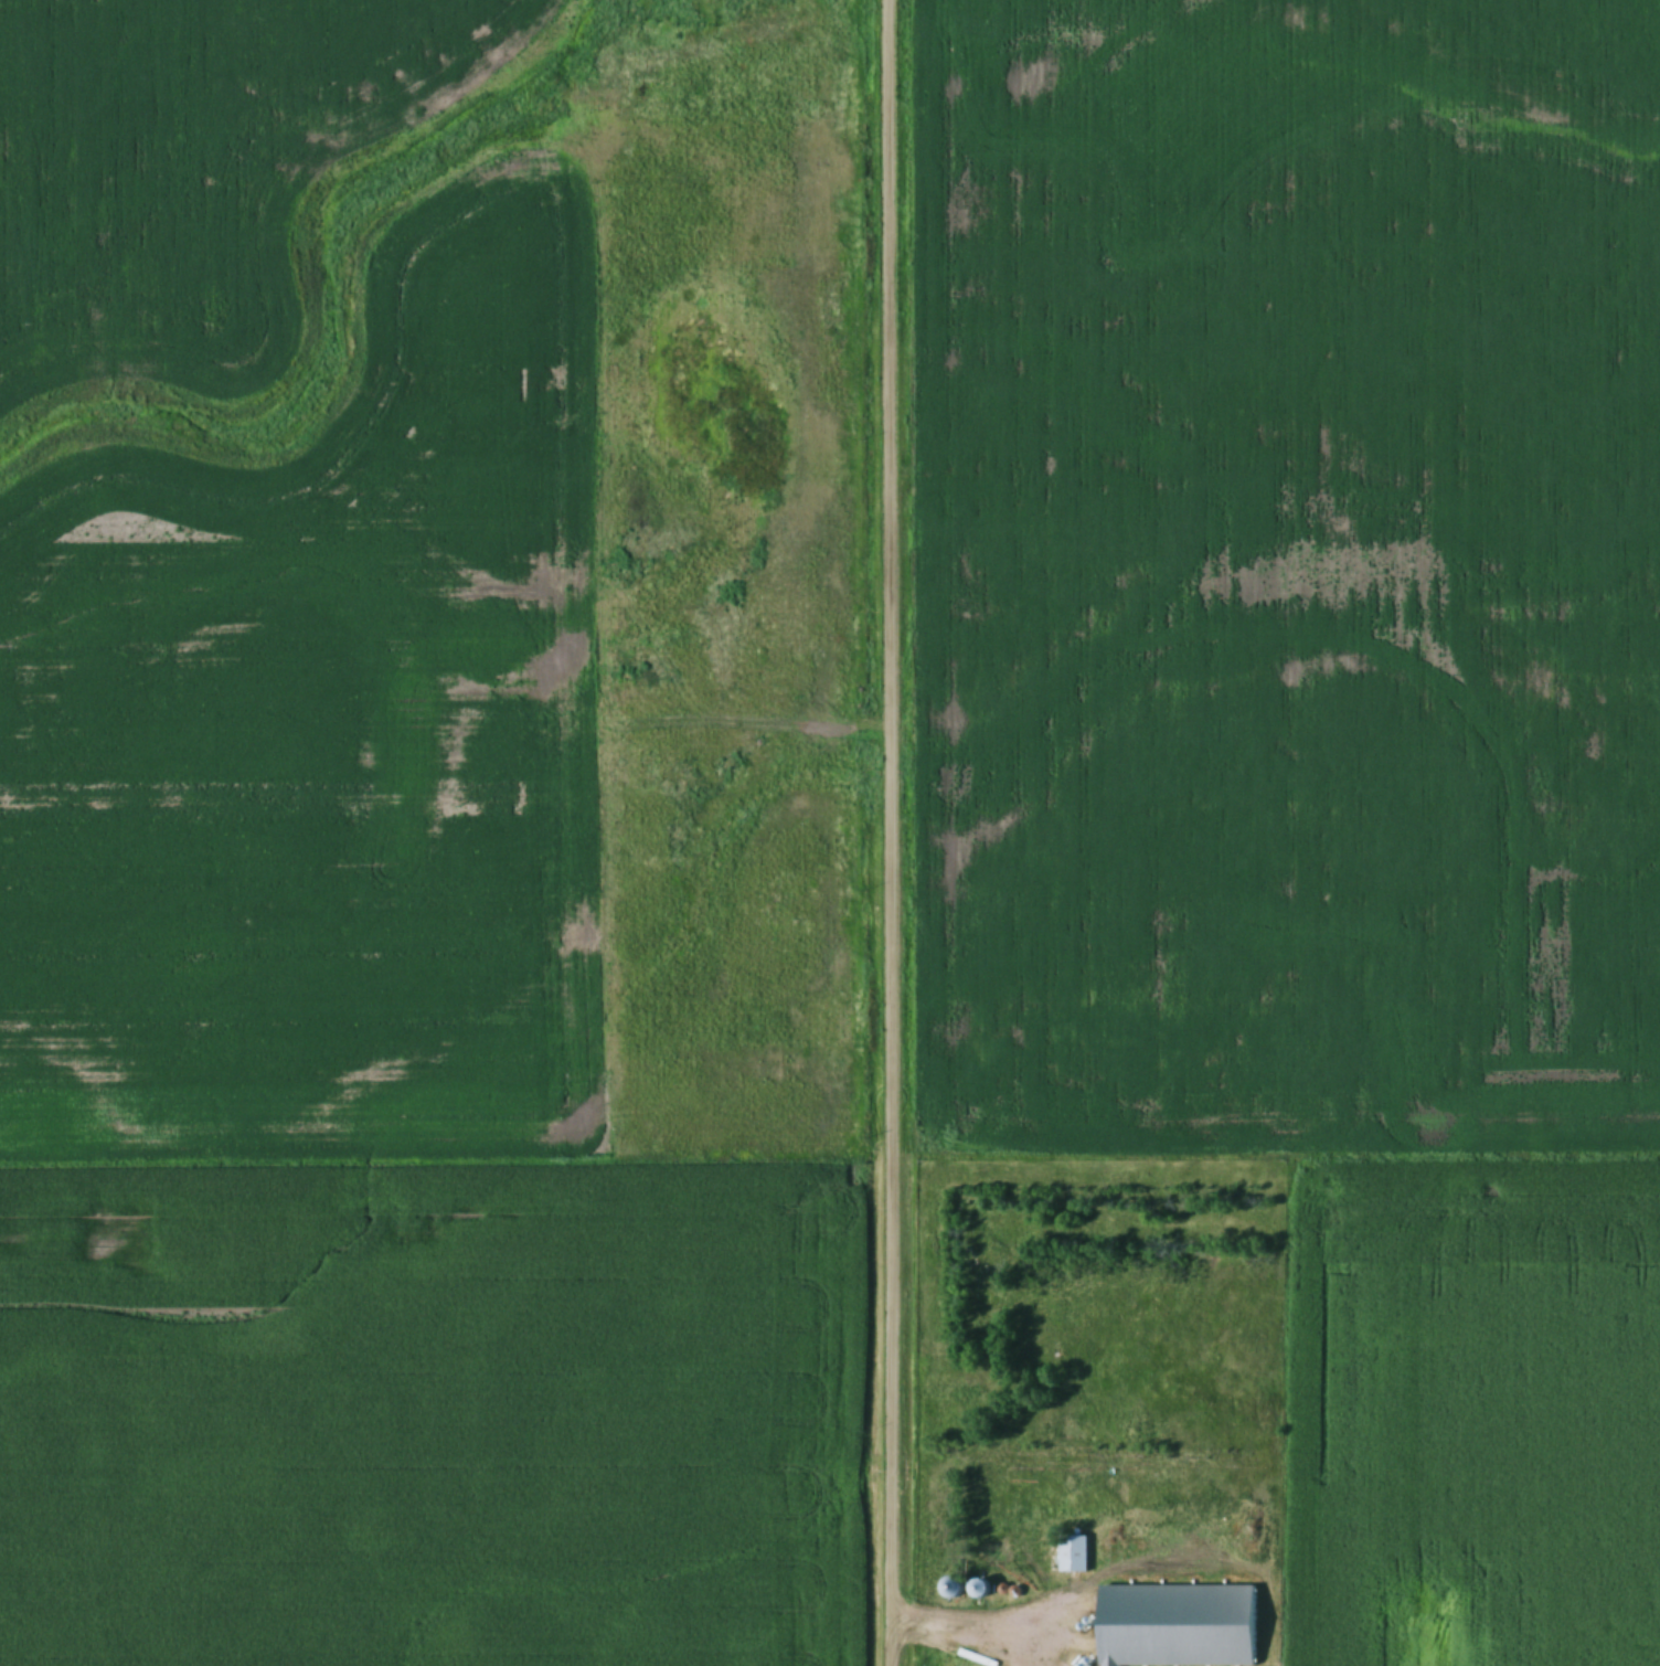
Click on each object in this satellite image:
road: (888, 832)
building: (1070, 1554)
building: (948, 1588)
building: (977, 1589)
building: (1007, 1591)
road: (958, 1635)

